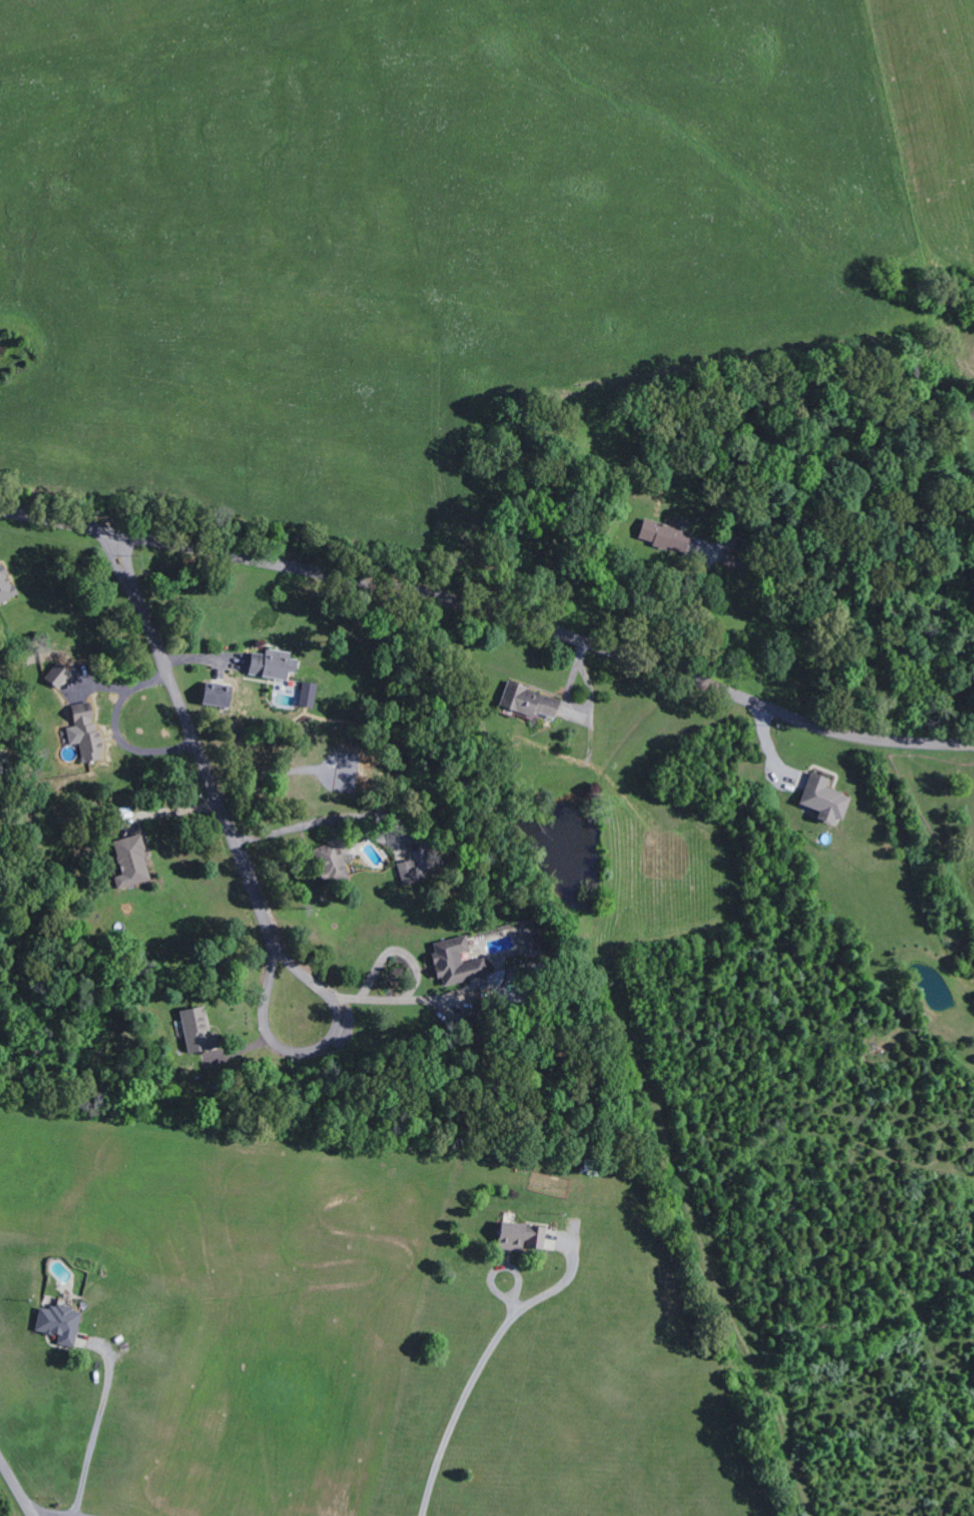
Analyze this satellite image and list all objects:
building: (666, 535)
building: (739, 560)
building: (6, 585)
road: (492, 615)
building: (274, 665)
building: (59, 675)
building: (220, 695)
building: (309, 695)
building: (531, 702)
building: (88, 733)
road: (195, 747)
park: (943, 797)
building: (827, 799)
road: (360, 816)
building: (335, 861)
building: (134, 862)
building: (409, 873)
building: (529, 938)
building: (458, 962)
building: (480, 1018)
building: (200, 1031)
building: (523, 1237)
building: (61, 1324)
road: (16, 1487)

